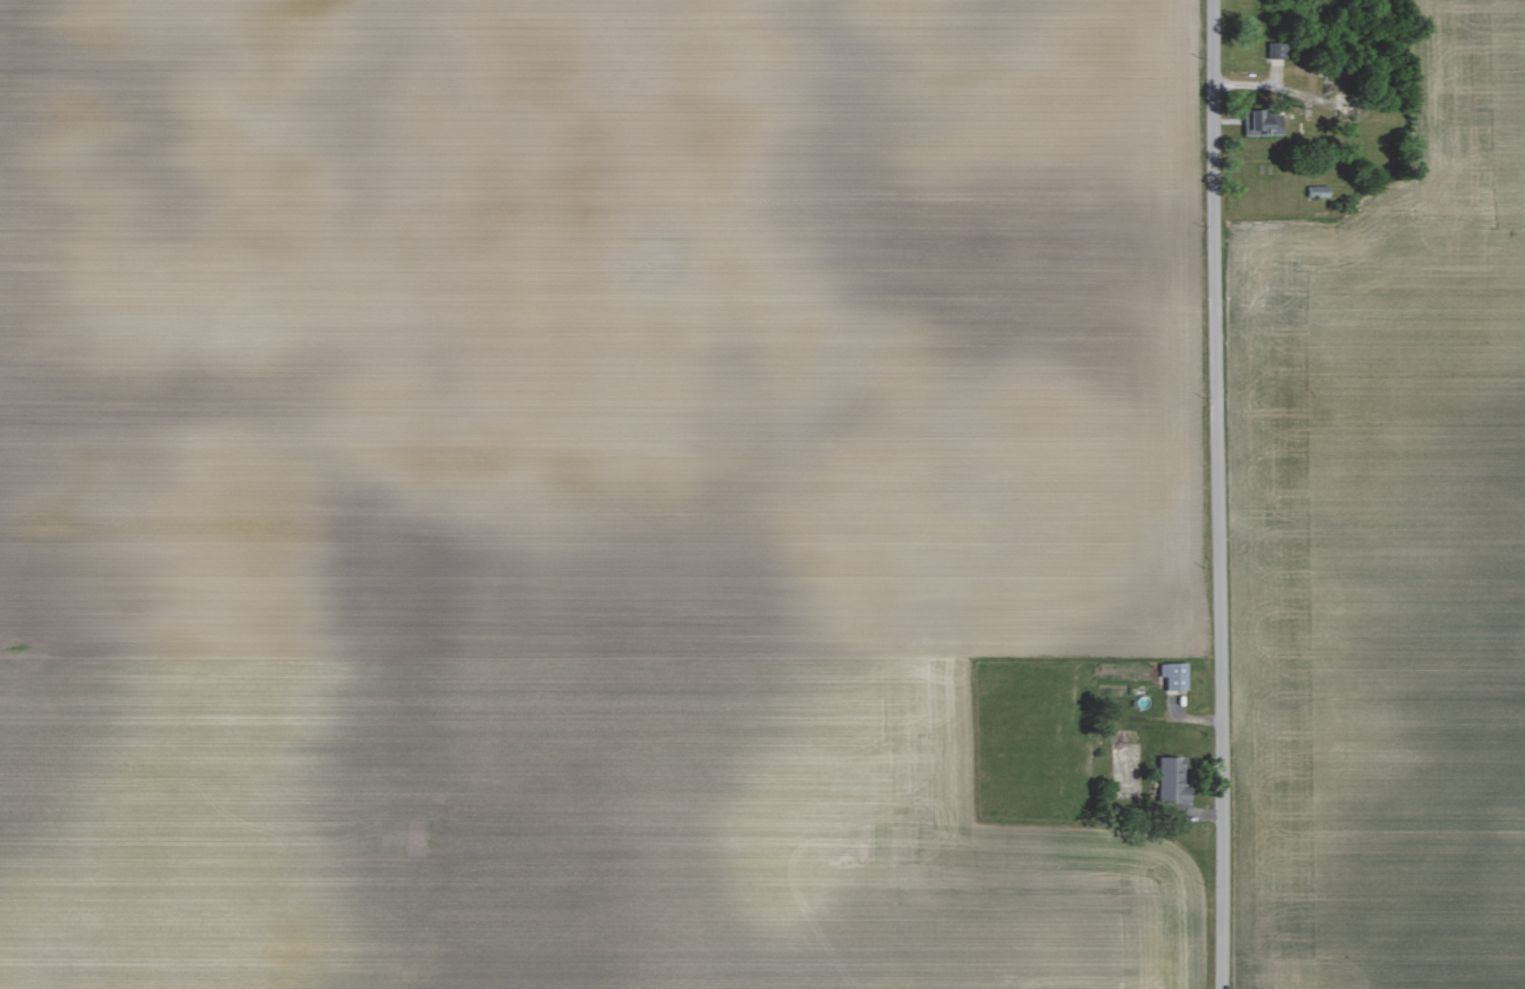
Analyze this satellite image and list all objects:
road: (1208, 494)
building: (1167, 779)

